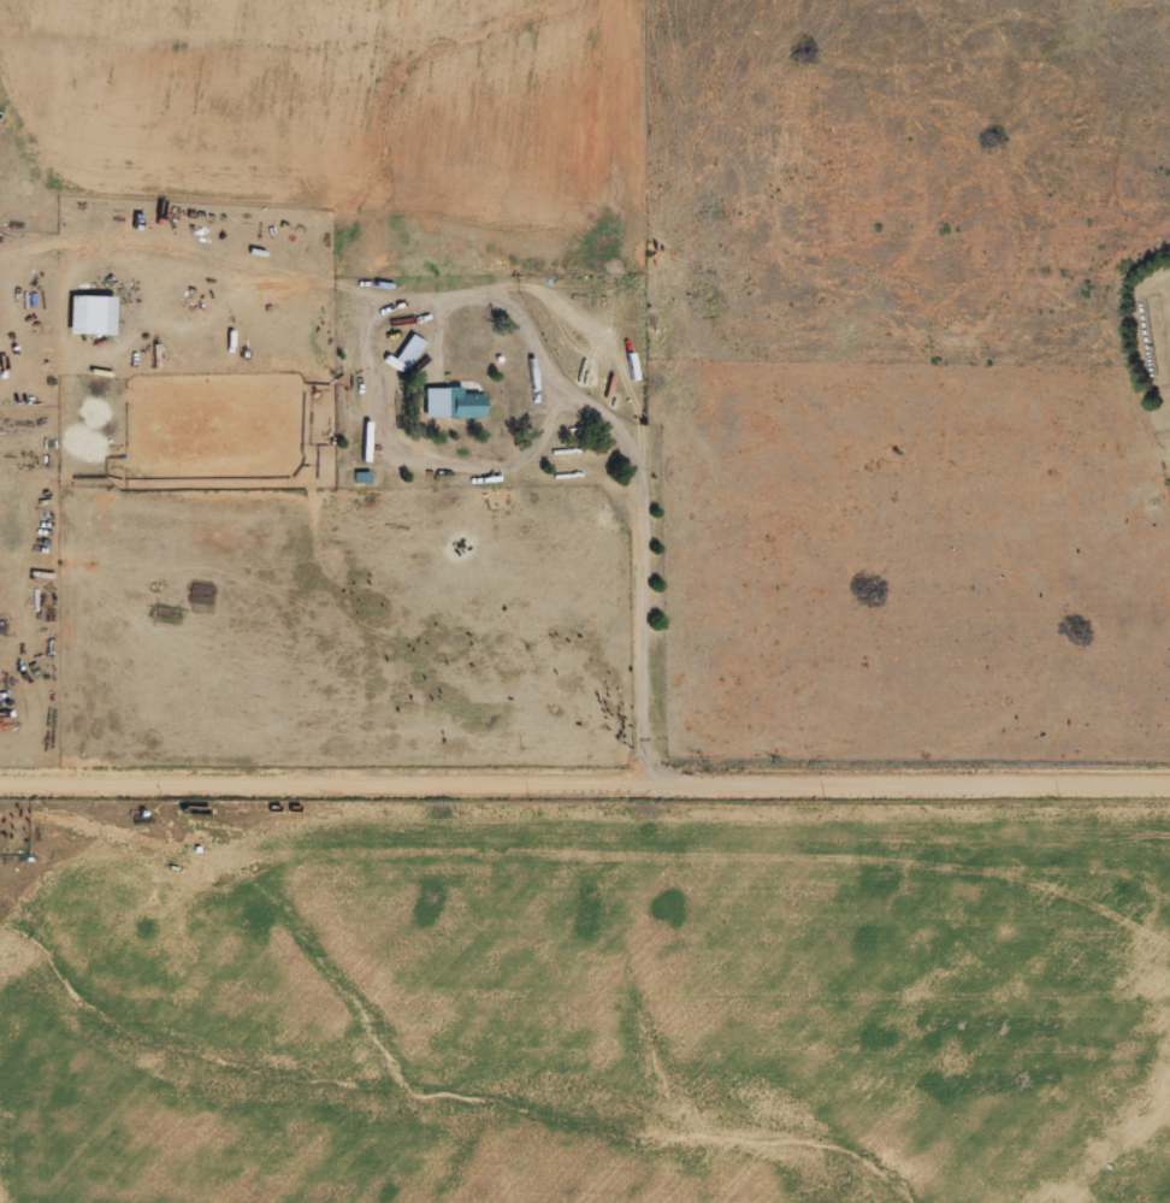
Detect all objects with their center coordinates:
building: (88, 317)
building: (407, 352)
building: (450, 405)
road: (585, 780)

